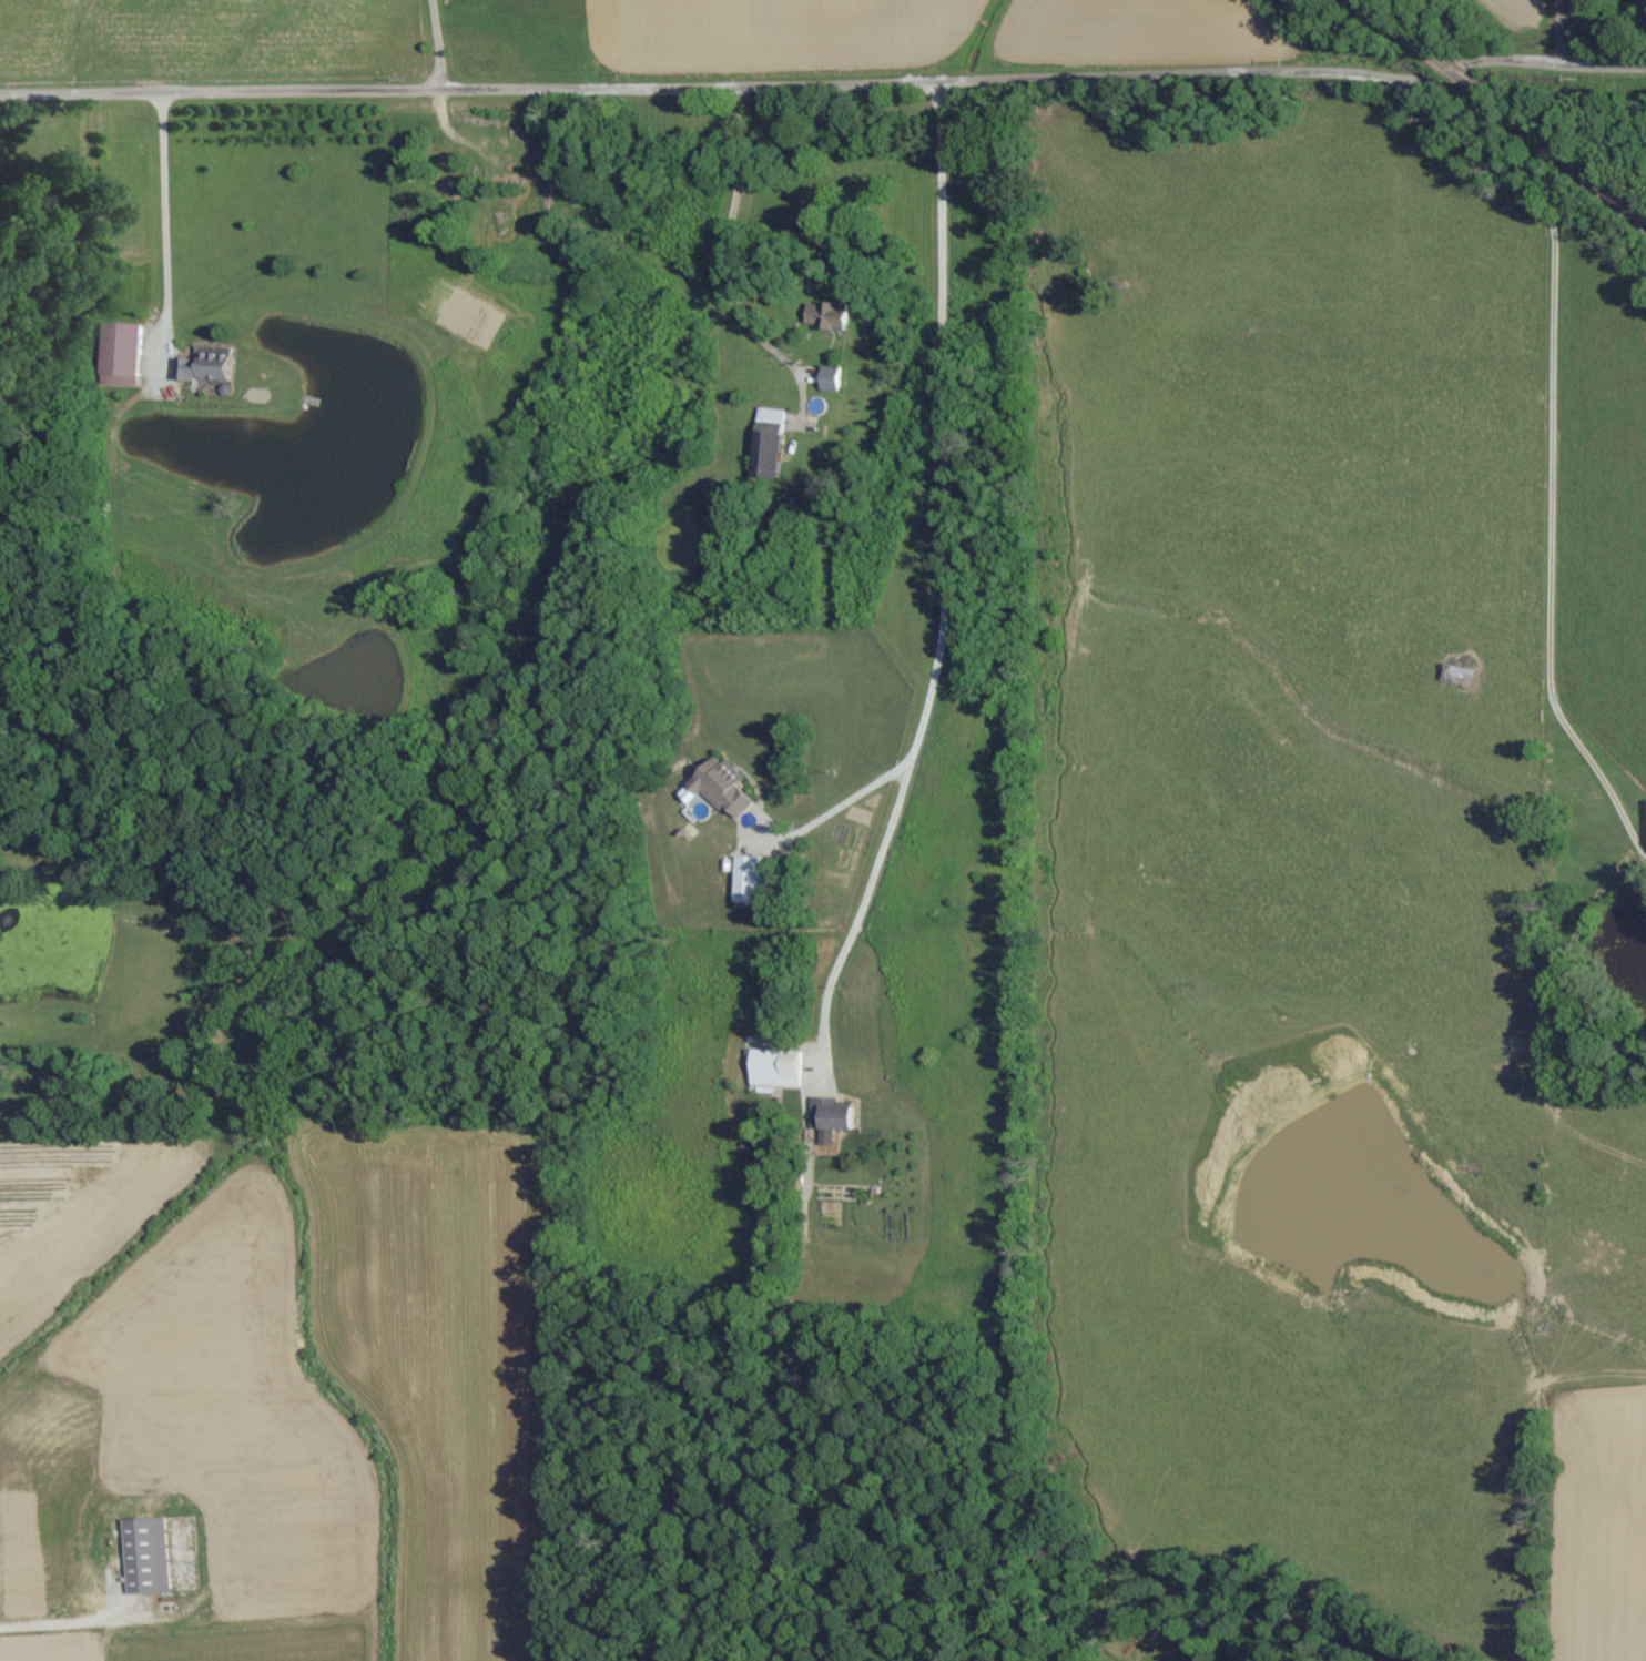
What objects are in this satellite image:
road: (1557, 38)
road: (437, 43)
road: (823, 81)
railway: (1505, 111)
road: (163, 221)
road: (724, 251)
building: (826, 316)
building: (118, 355)
building: (201, 367)
building: (766, 438)
road: (1553, 439)
road: (949, 595)
building: (715, 789)
road: (836, 808)
building: (749, 881)
building: (829, 1114)
building: (143, 1556)

